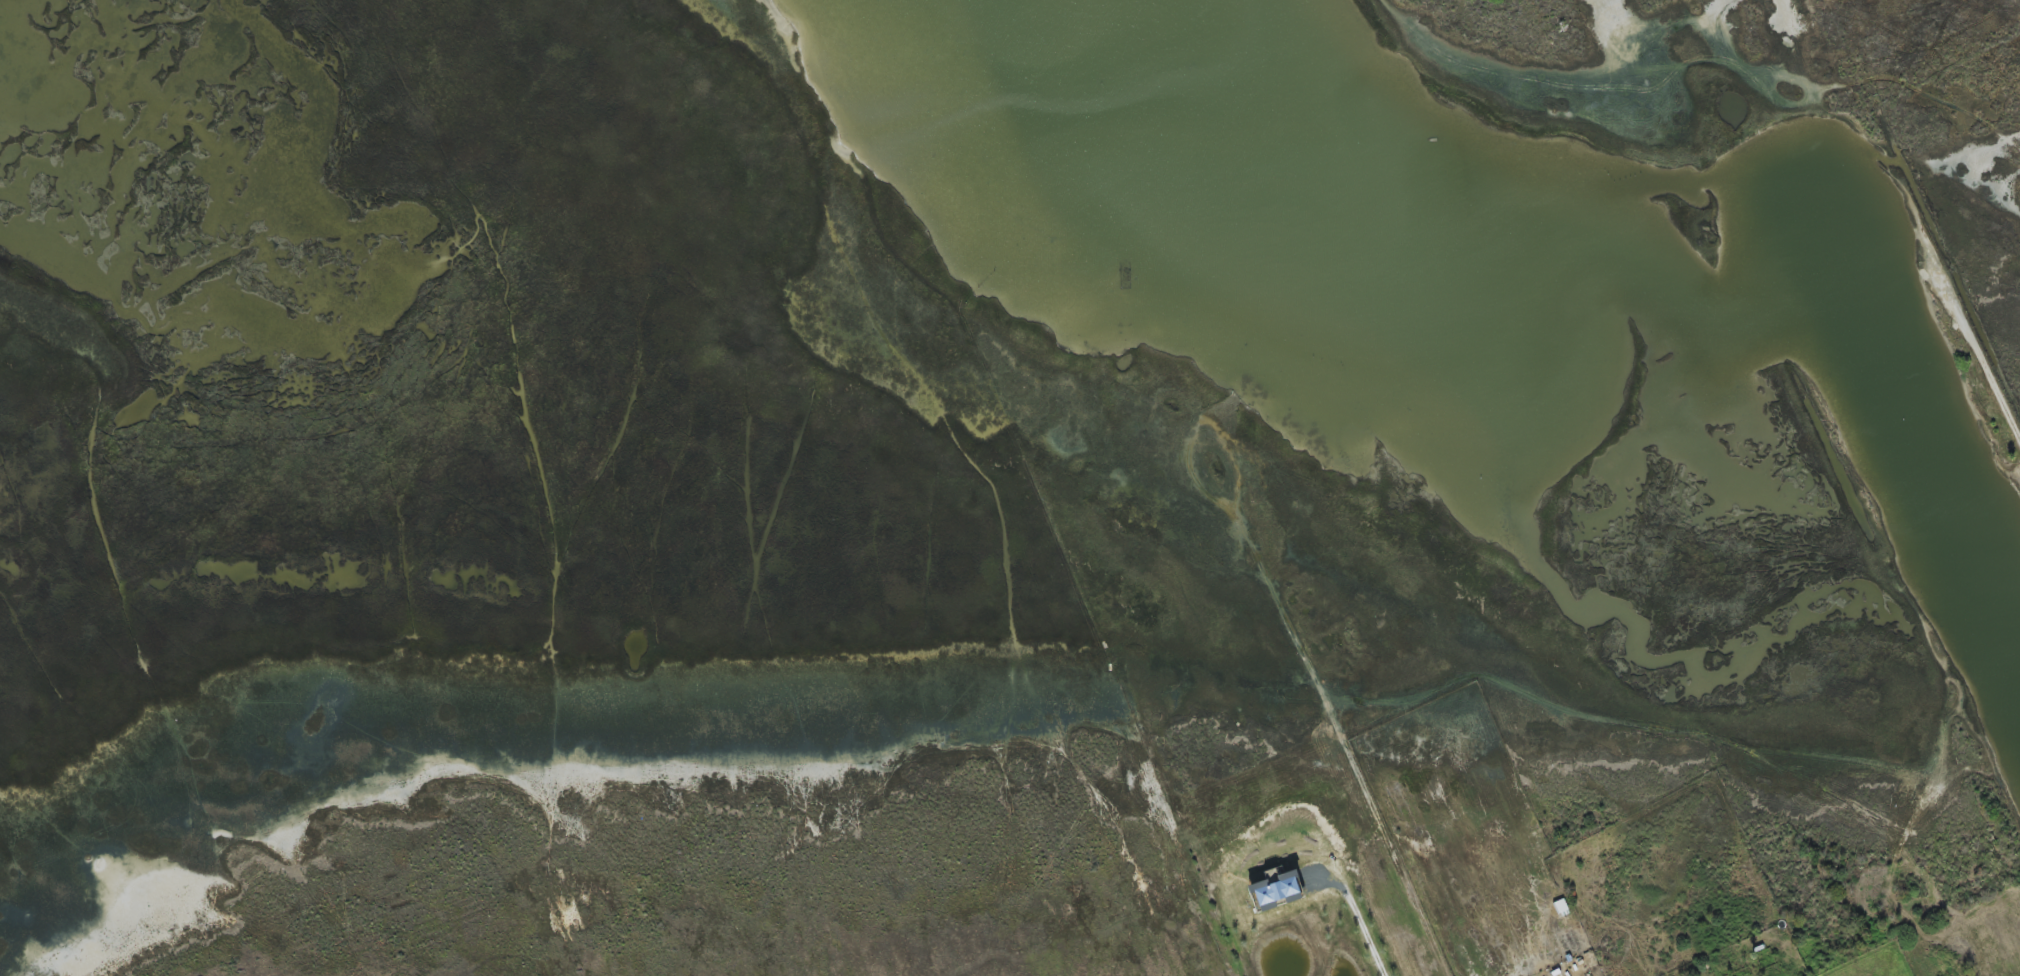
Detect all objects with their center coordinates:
building: (1277, 891)
road: (1358, 917)

